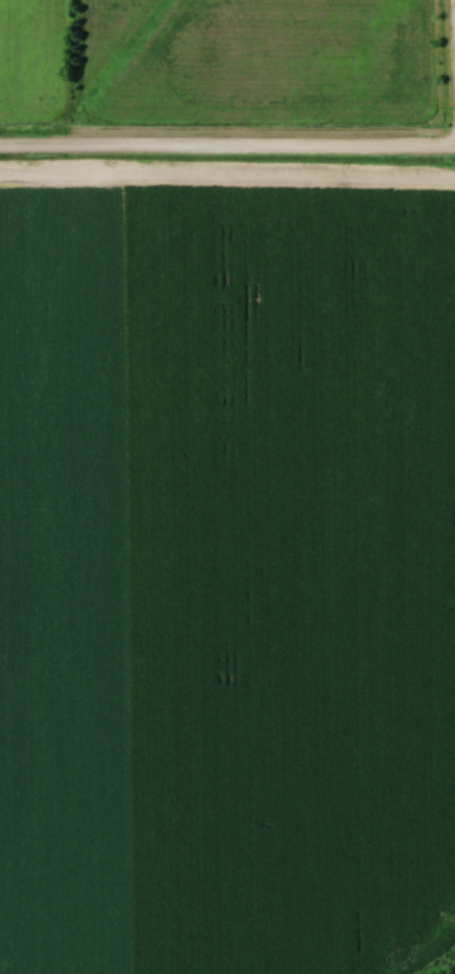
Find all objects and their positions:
road: (227, 146)
crop: (226, 581)

